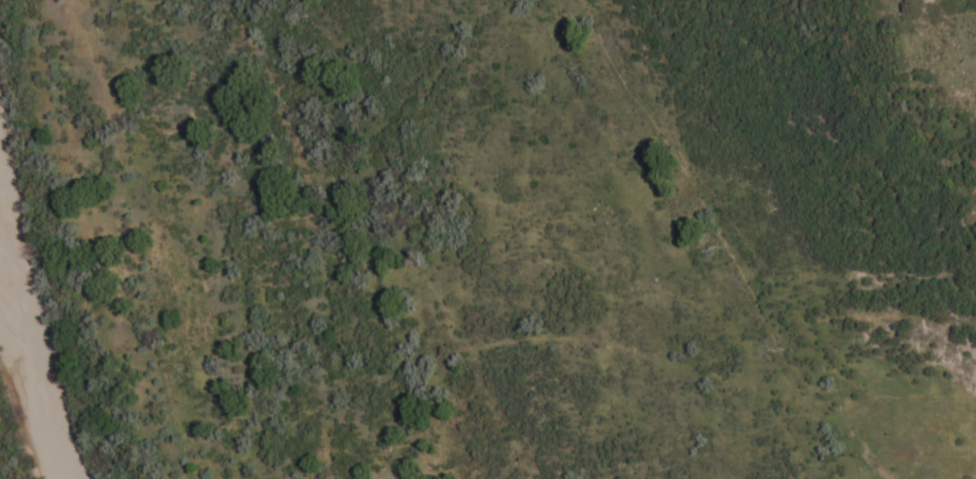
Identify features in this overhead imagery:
river: (20, 377)

